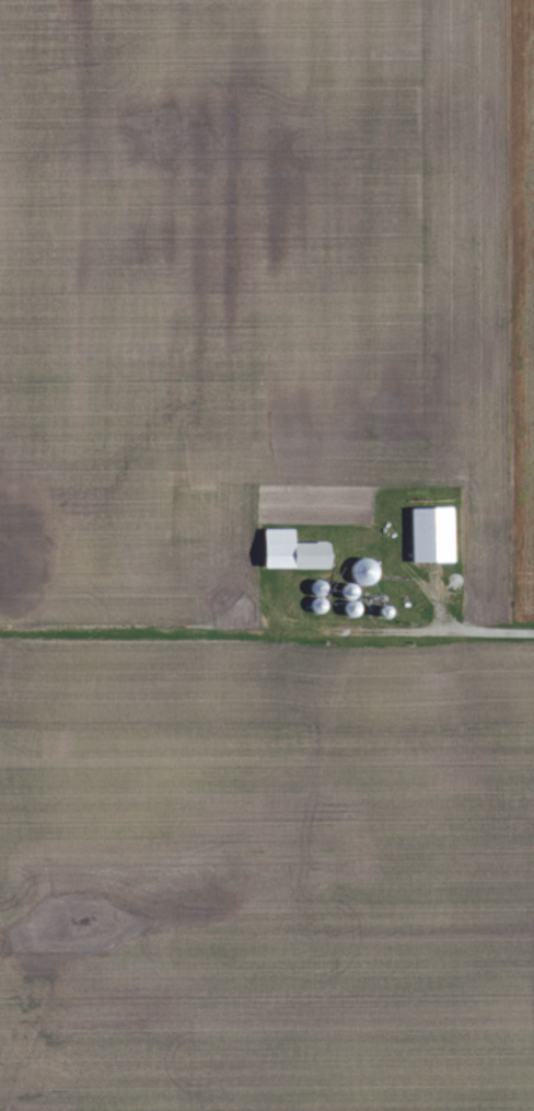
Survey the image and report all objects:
building: (428, 535)
building: (288, 551)
crop: (127, 581)
road: (480, 629)

